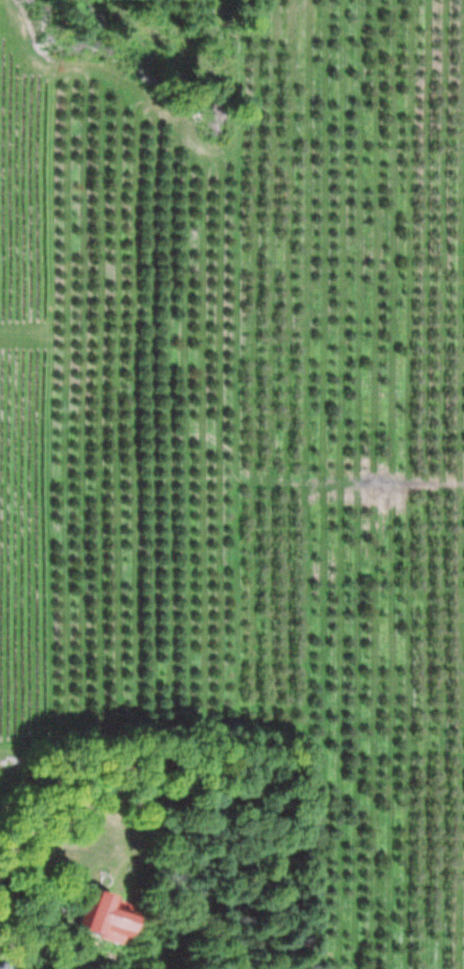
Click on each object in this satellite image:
building: (95, 916)
building: (1, 965)

